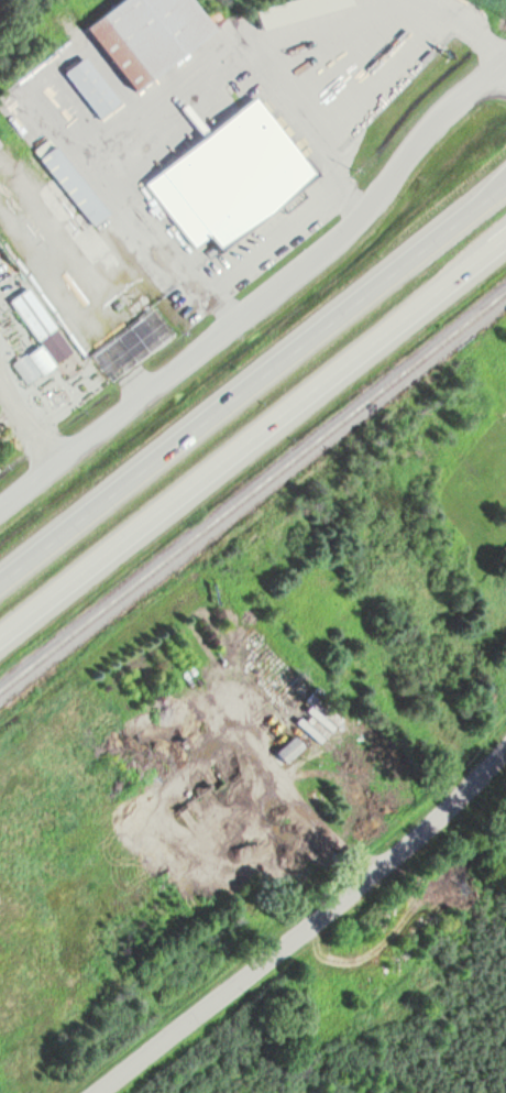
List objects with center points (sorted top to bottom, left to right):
building: (295, 10)
building: (146, 35)
building: (90, 86)
building: (229, 176)
building: (69, 181)
road: (485, 197)
road: (266, 295)
building: (31, 313)
building: (33, 363)
road: (232, 396)
road: (252, 431)
railway: (253, 491)
building: (288, 747)
road: (301, 927)

